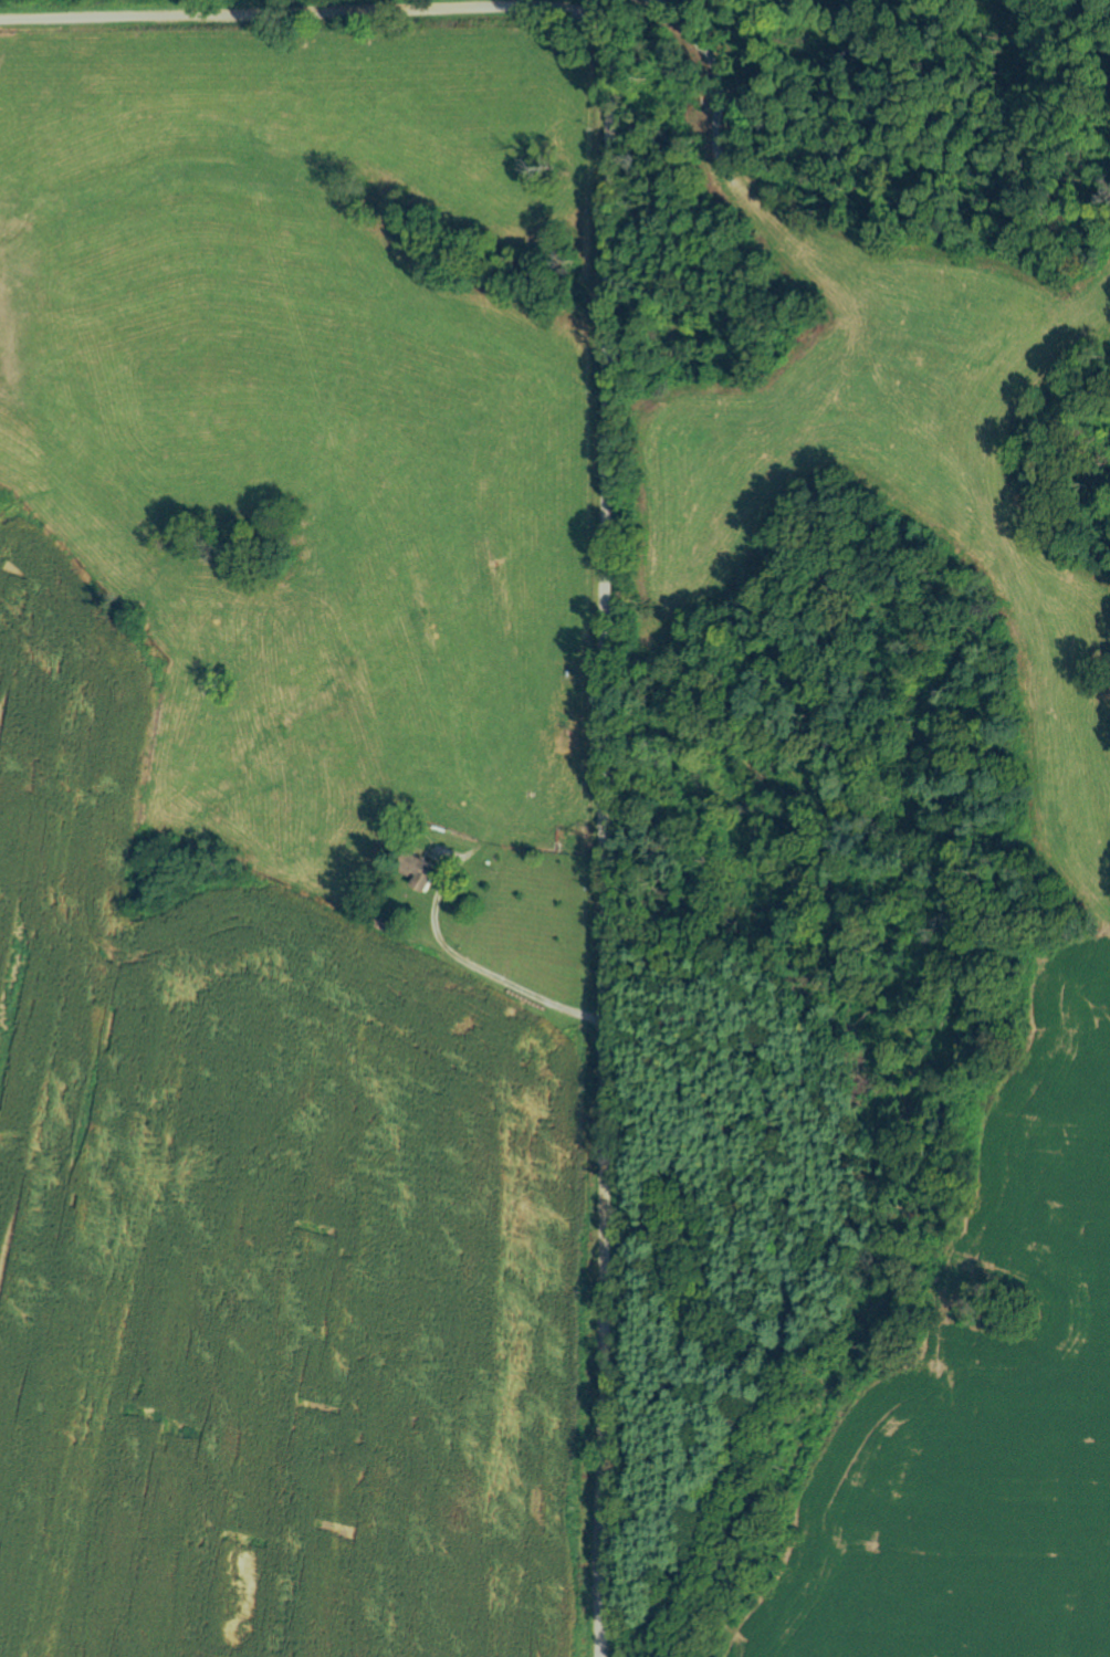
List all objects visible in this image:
road: (605, 535)
building: (415, 872)

